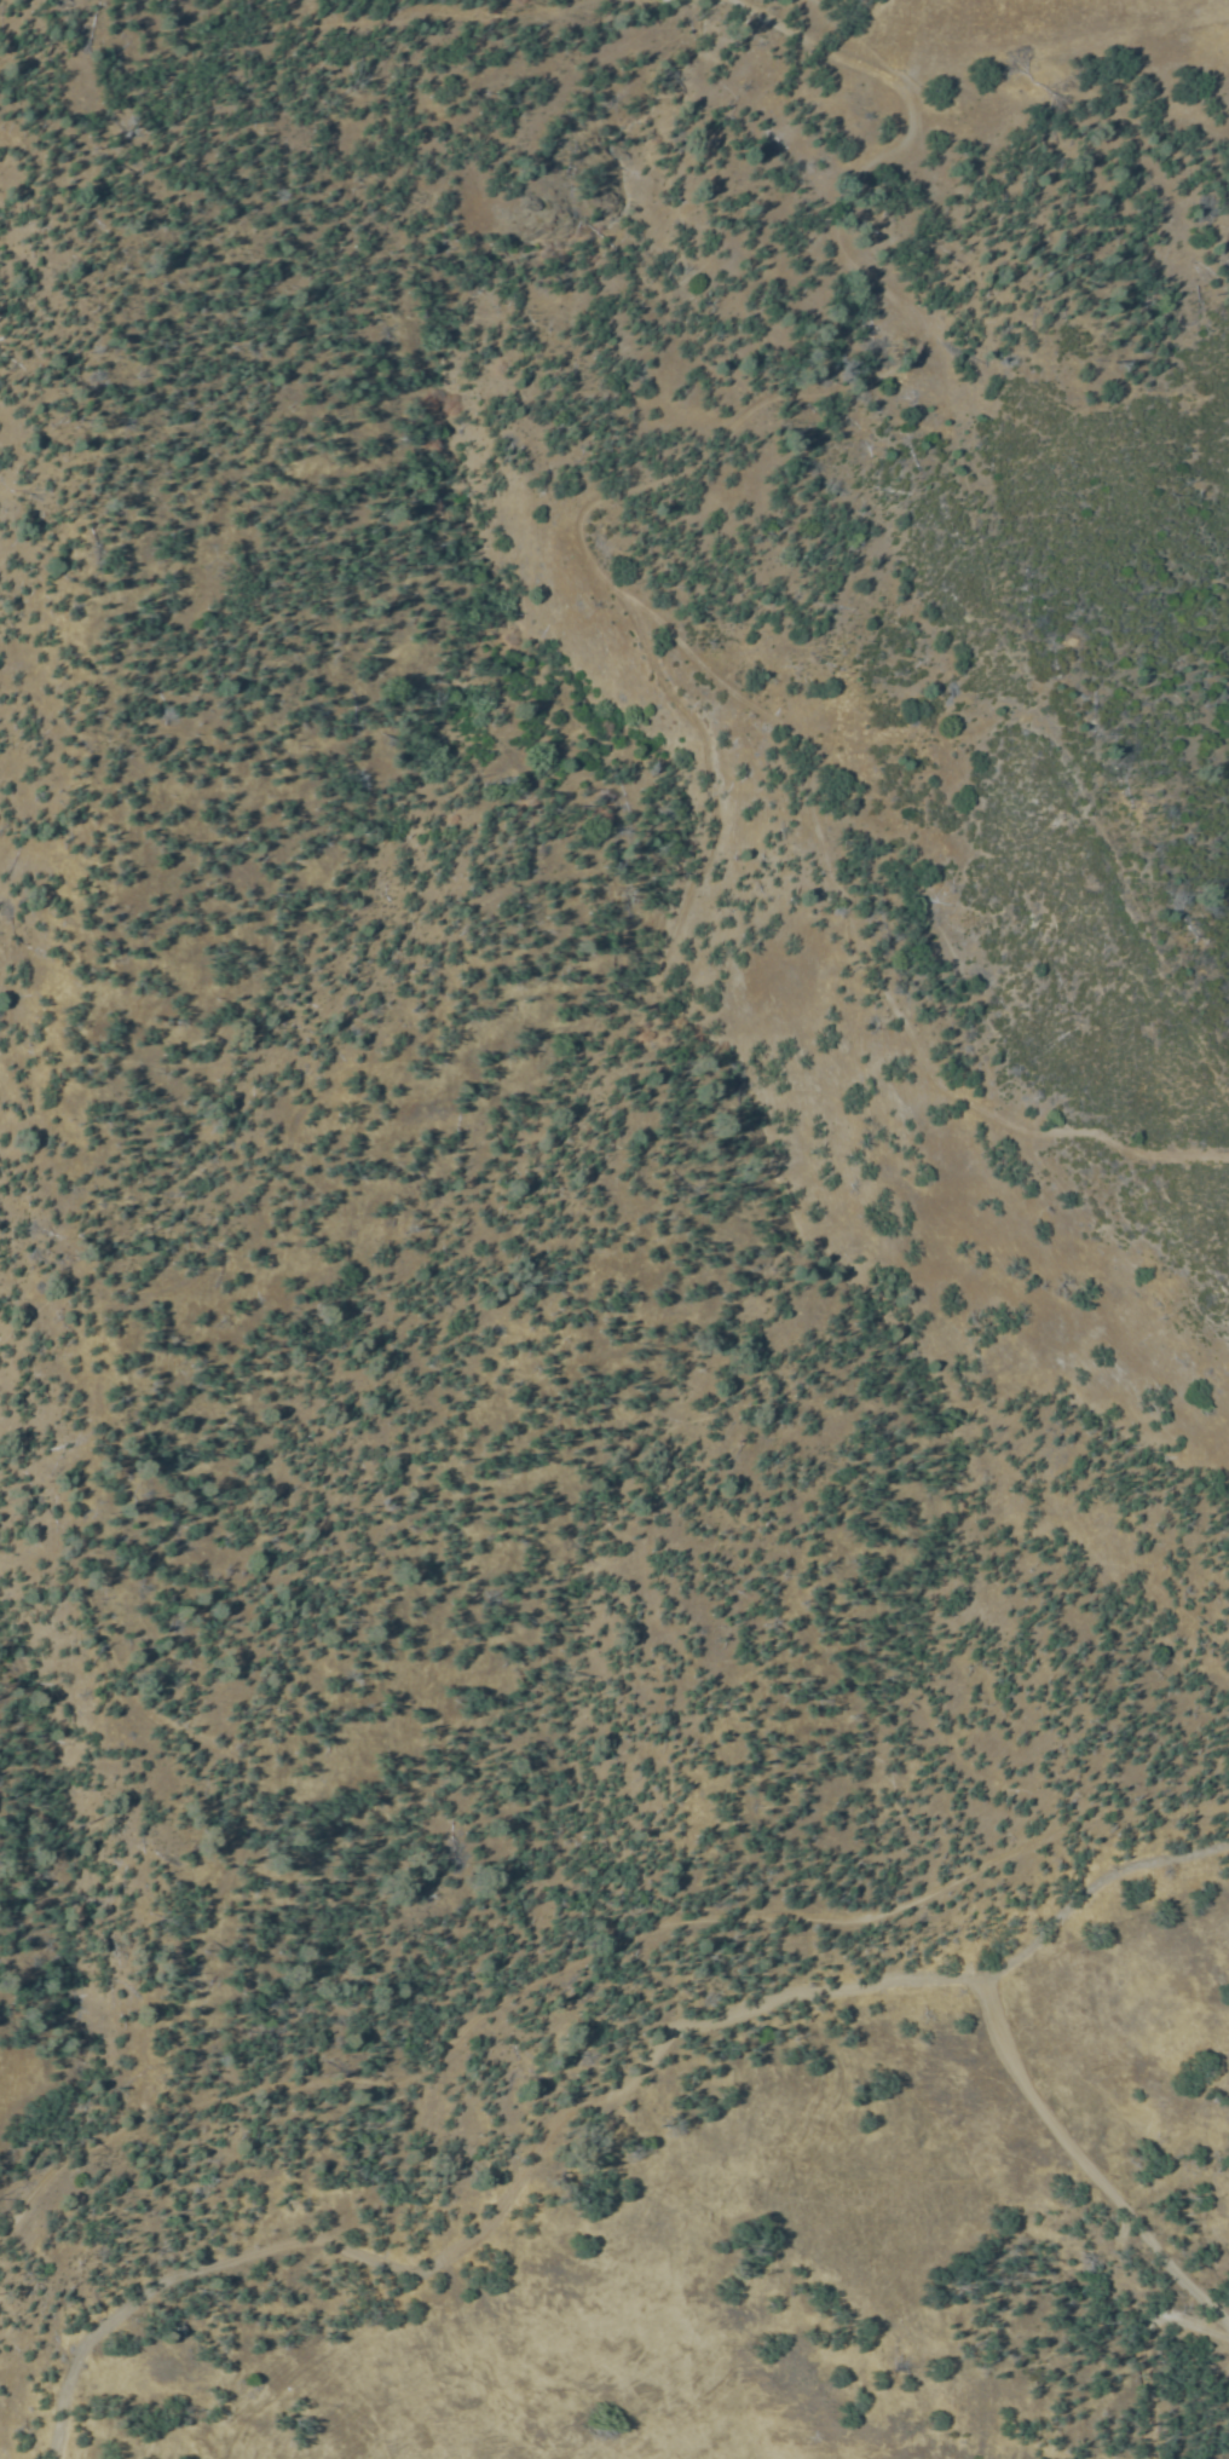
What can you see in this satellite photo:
road: (593, 11)
road: (1081, 2177)
road: (495, 2224)
road: (1227, 2331)
road: (1144, 2353)

